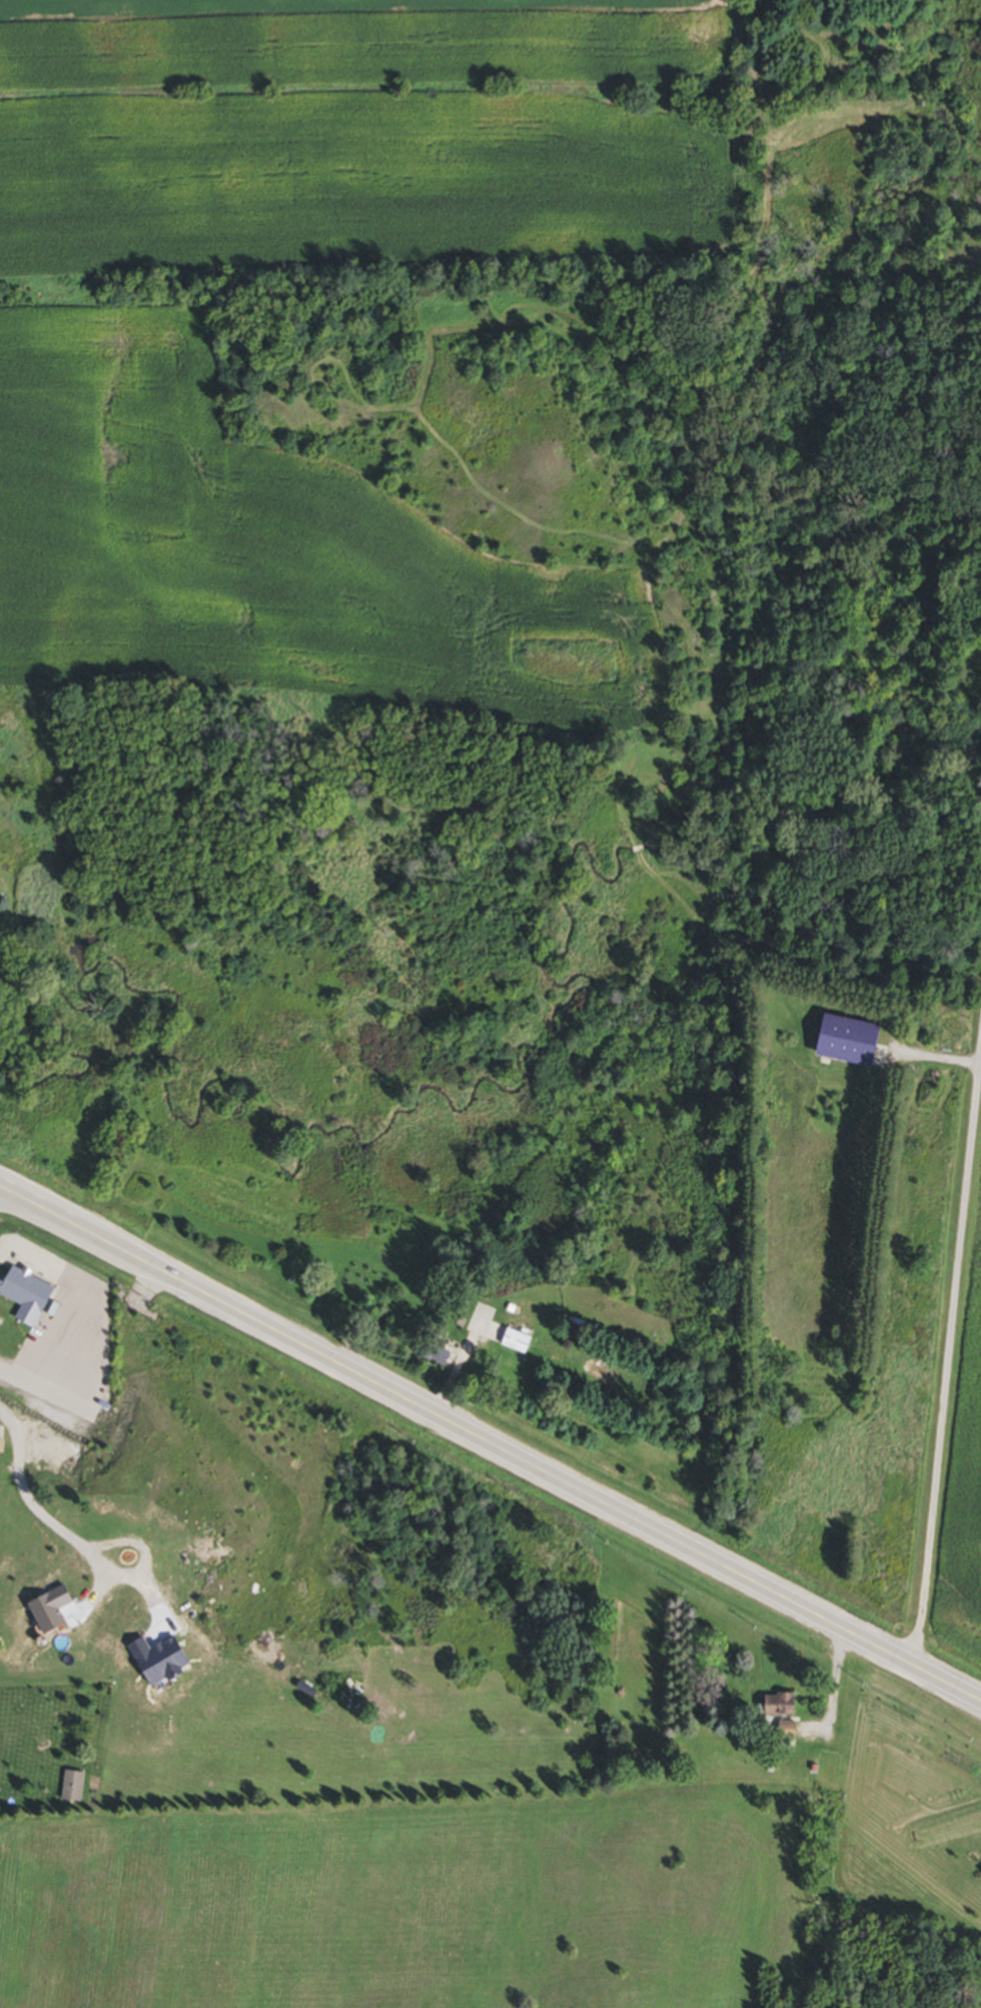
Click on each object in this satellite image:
building: (841, 1043)
building: (22, 1297)
road: (944, 1318)
building: (514, 1343)
building: (431, 1354)
road: (55, 1361)
road: (490, 1444)
road: (36, 1522)
building: (777, 1706)
building: (72, 1788)

